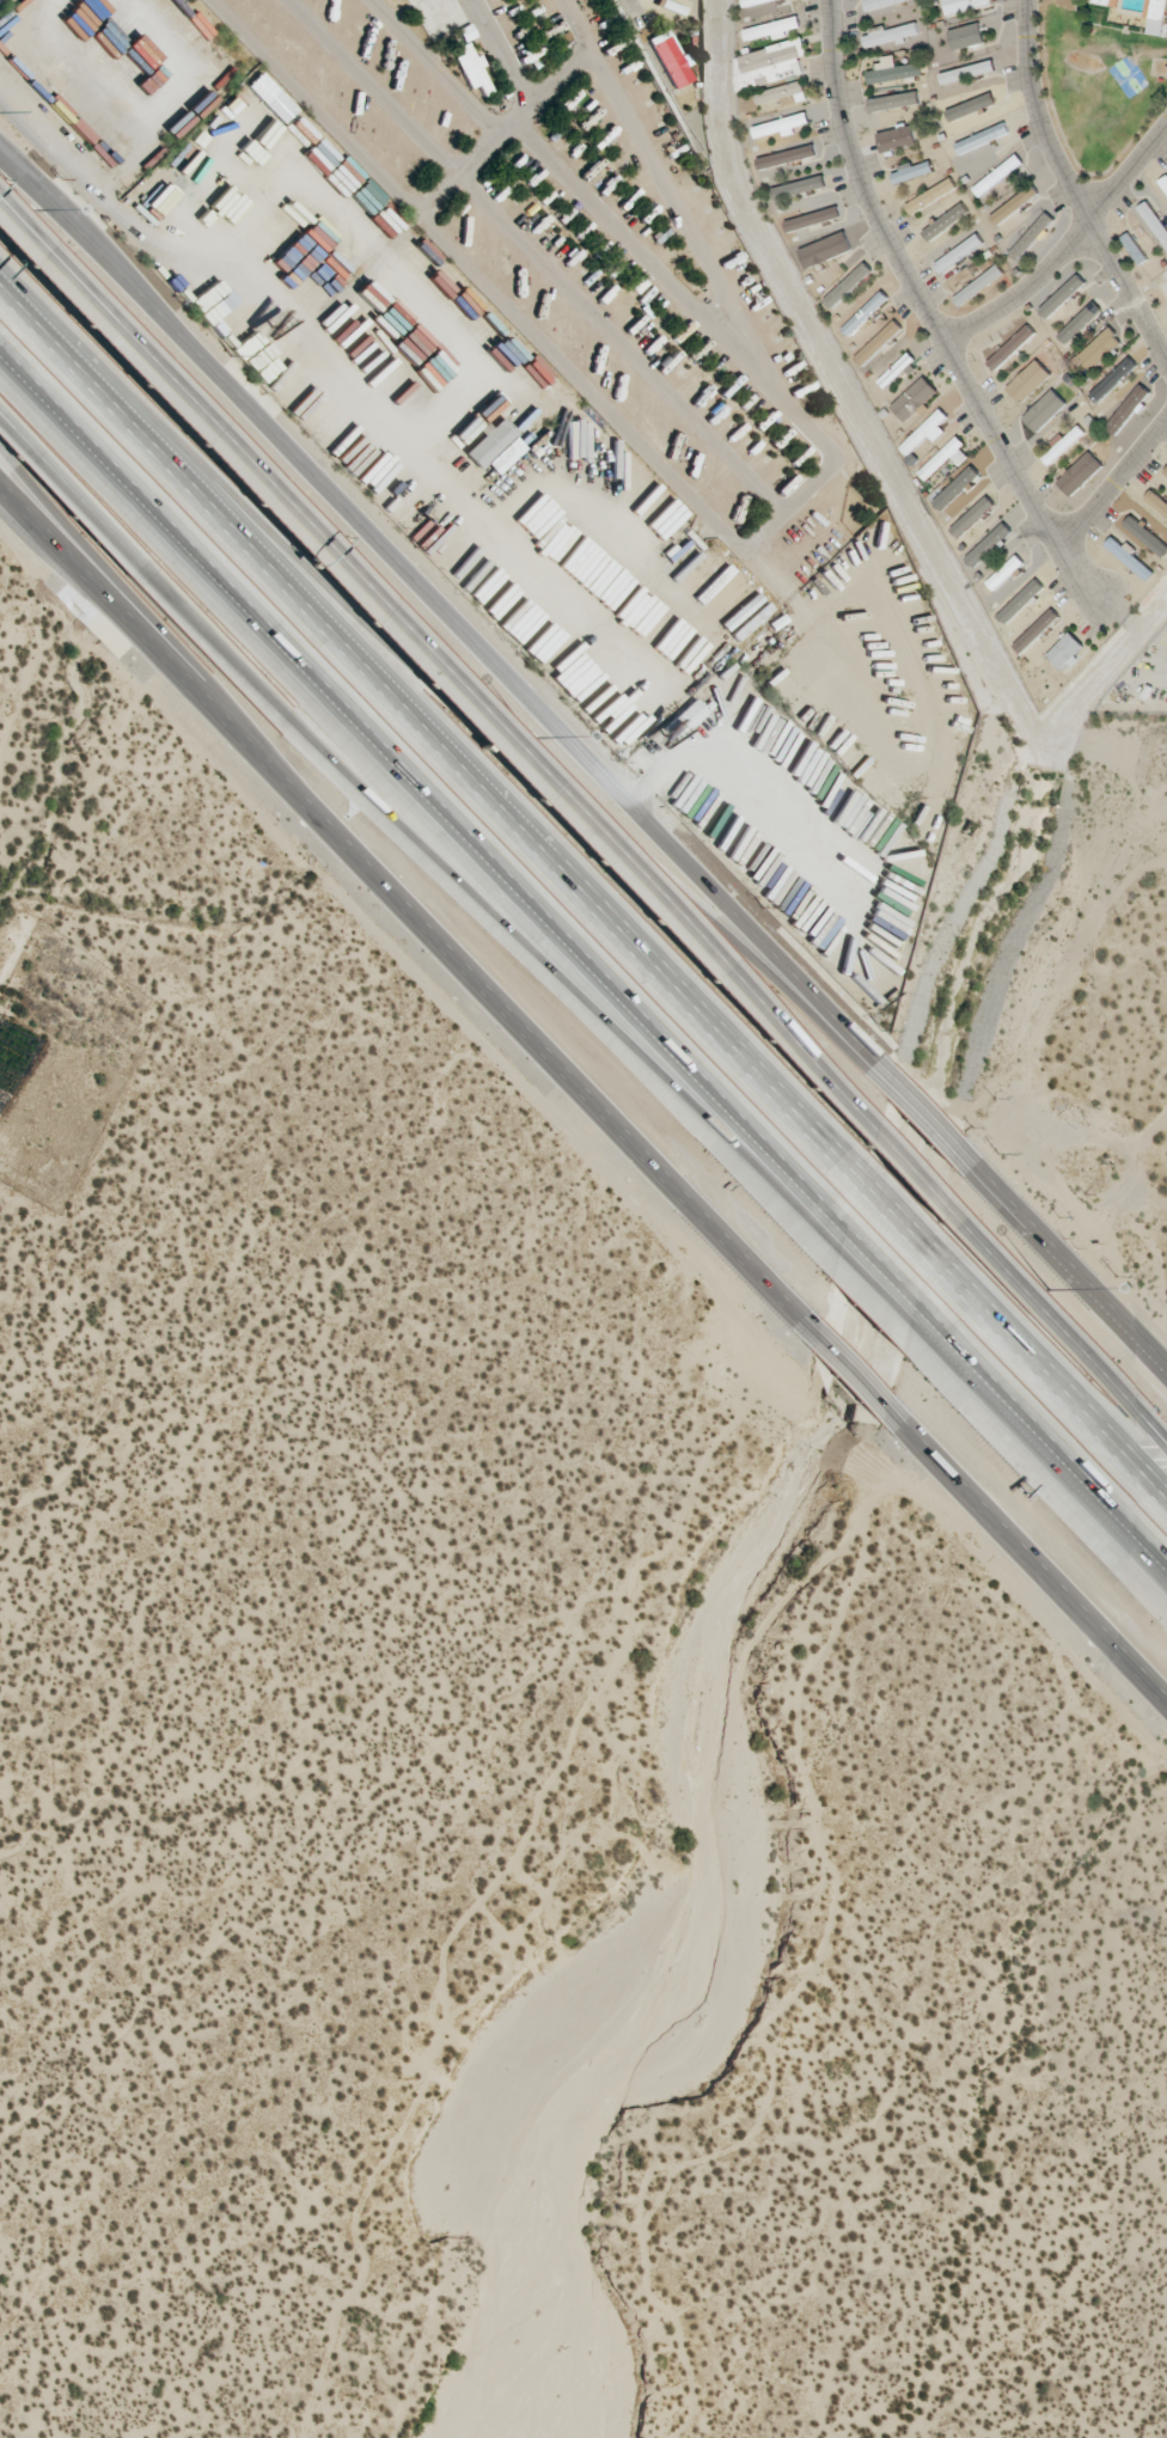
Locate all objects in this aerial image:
building: (1107, 2)
building: (880, 4)
building: (965, 4)
road: (635, 13)
building: (1157, 16)
building: (772, 29)
building: (890, 33)
building: (965, 36)
road: (500, 49)
building: (670, 56)
building: (770, 63)
road: (428, 67)
building: (472, 68)
building: (892, 71)
building: (967, 72)
building: (784, 93)
building: (893, 100)
building: (971, 106)
building: (782, 126)
building: (982, 138)
building: (897, 139)
building: (787, 157)
building: (911, 171)
building: (998, 175)
building: (1165, 182)
road: (1070, 187)
building: (930, 196)
road: (49, 202)
building: (1014, 204)
road: (416, 209)
building: (813, 218)
building: (946, 221)
building: (1154, 221)
building: (1032, 236)
road: (1065, 245)
building: (825, 249)
building: (959, 252)
road: (536, 255)
road: (644, 262)
building: (848, 285)
building: (978, 285)
building: (1163, 288)
road: (80, 291)
building: (1062, 295)
road: (75, 305)
building: (866, 312)
road: (927, 318)
building: (1080, 323)
building: (879, 342)
building: (1012, 347)
building: (1099, 349)
building: (1112, 379)
building: (1028, 380)
building: (915, 398)
building: (1128, 409)
building: (1044, 410)
building: (924, 432)
building: (1063, 444)
building: (495, 447)
building: (946, 458)
building: (1166, 471)
building: (1080, 473)
road: (1111, 481)
building: (958, 488)
road: (69, 499)
building: (1157, 501)
road: (789, 503)
building: (973, 517)
building: (988, 544)
building: (1130, 557)
building: (1006, 572)
building: (1021, 601)
road: (153, 619)
building: (1035, 630)
building: (1065, 650)
road: (442, 665)
road: (494, 667)
building: (689, 715)
road: (428, 726)
road: (421, 798)
road: (410, 909)
road: (488, 918)
road: (795, 1049)
road: (924, 1114)
road: (908, 1169)
road: (892, 1211)
road: (1063, 1259)
road: (878, 1275)
road: (872, 1297)
road: (1055, 1327)
road: (1047, 1371)
road: (850, 1373)
road: (1024, 1428)
road: (1019, 1436)
road: (1025, 1554)
road: (1150, 1559)

